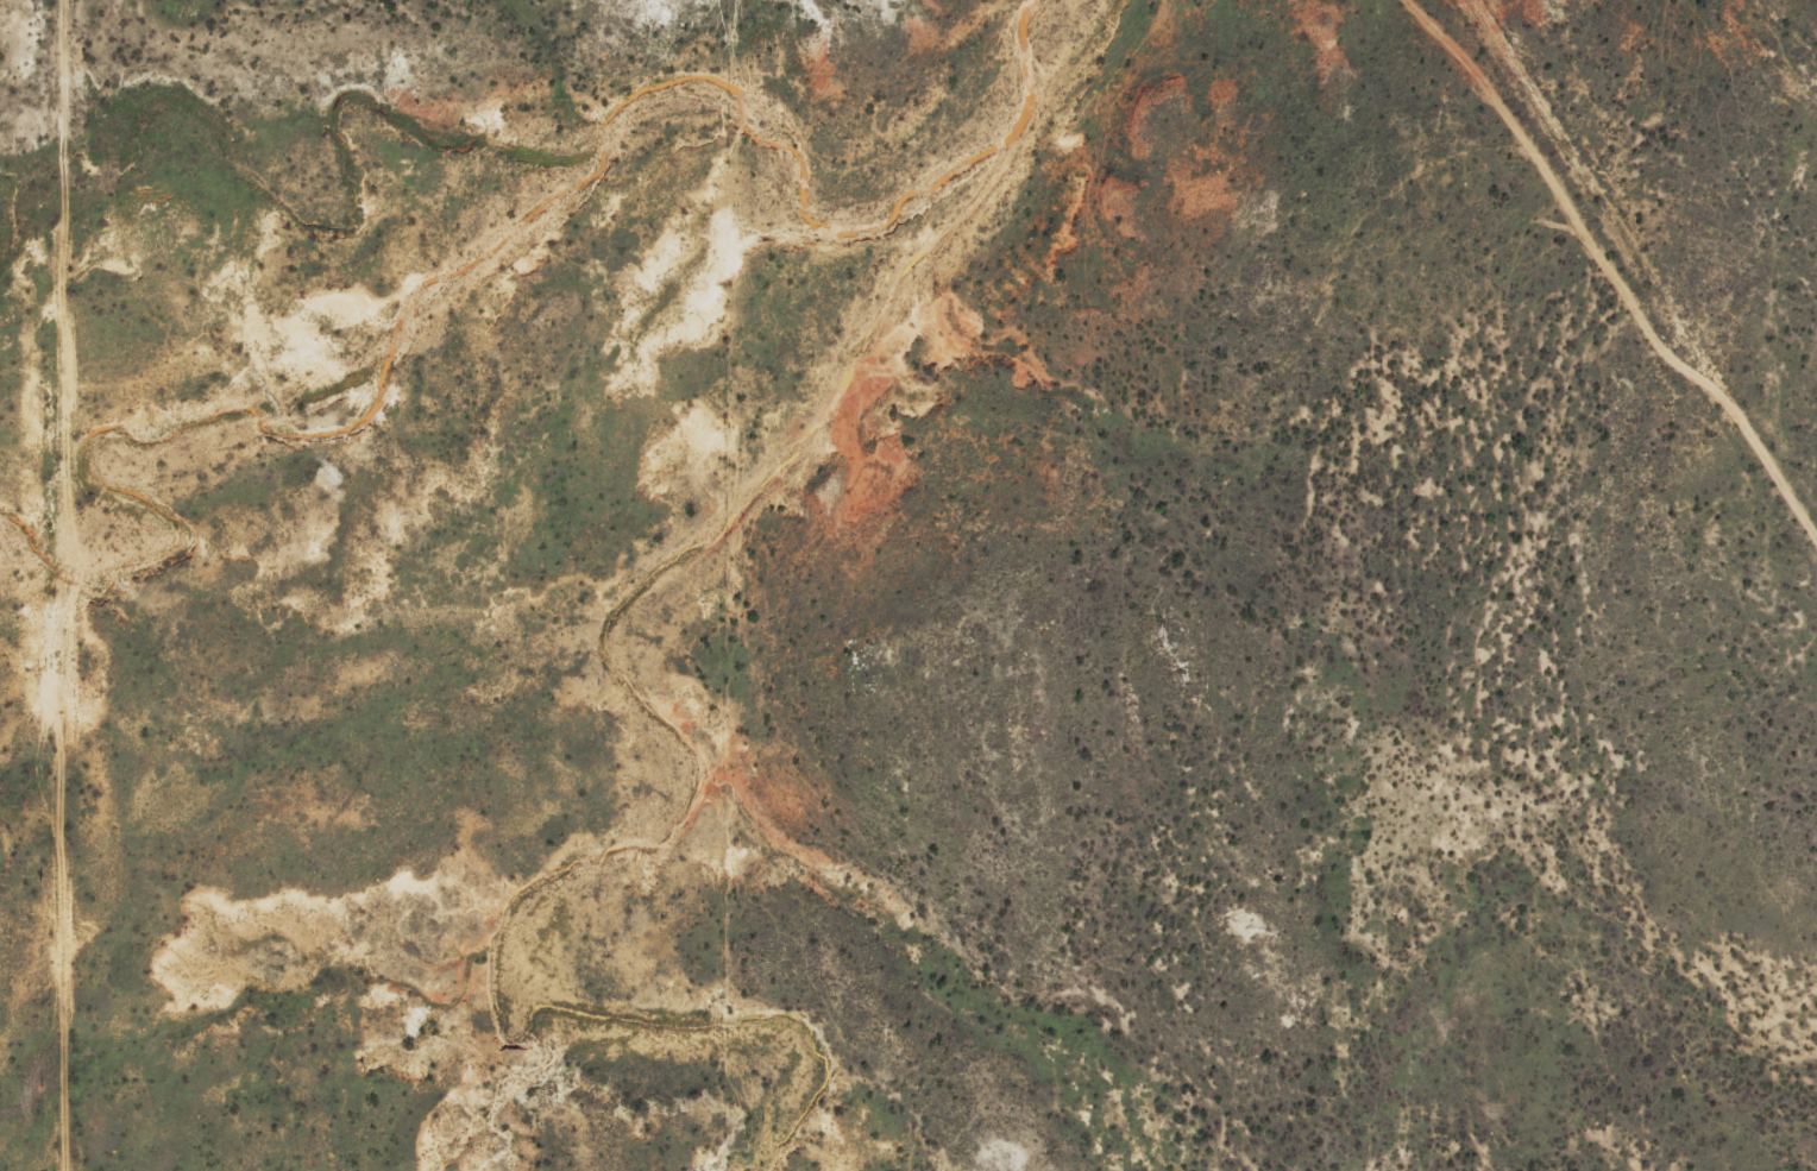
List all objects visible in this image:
road: (1637, 272)
road: (51, 580)

